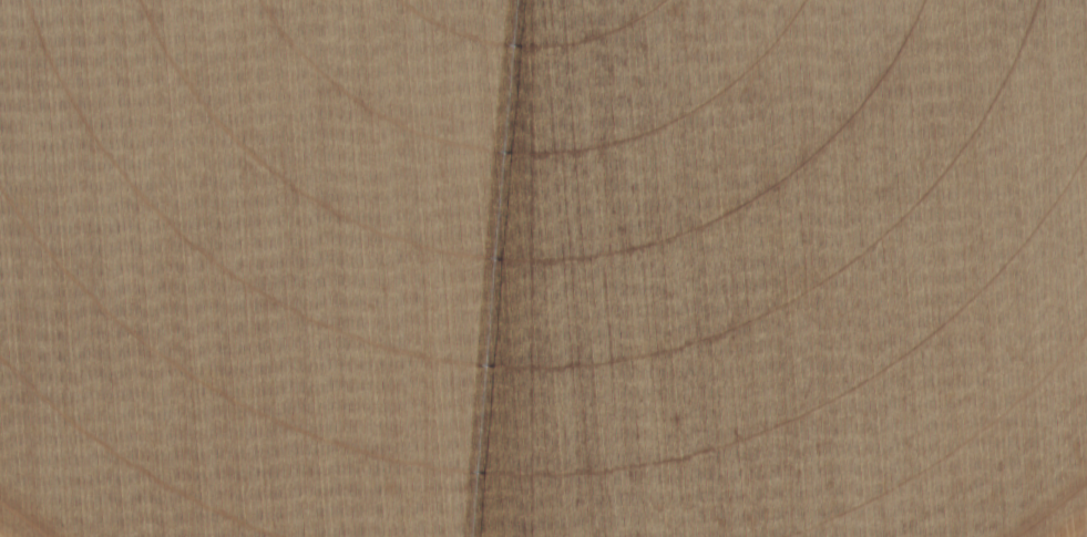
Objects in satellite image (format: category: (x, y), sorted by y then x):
crop: (543, 268)

